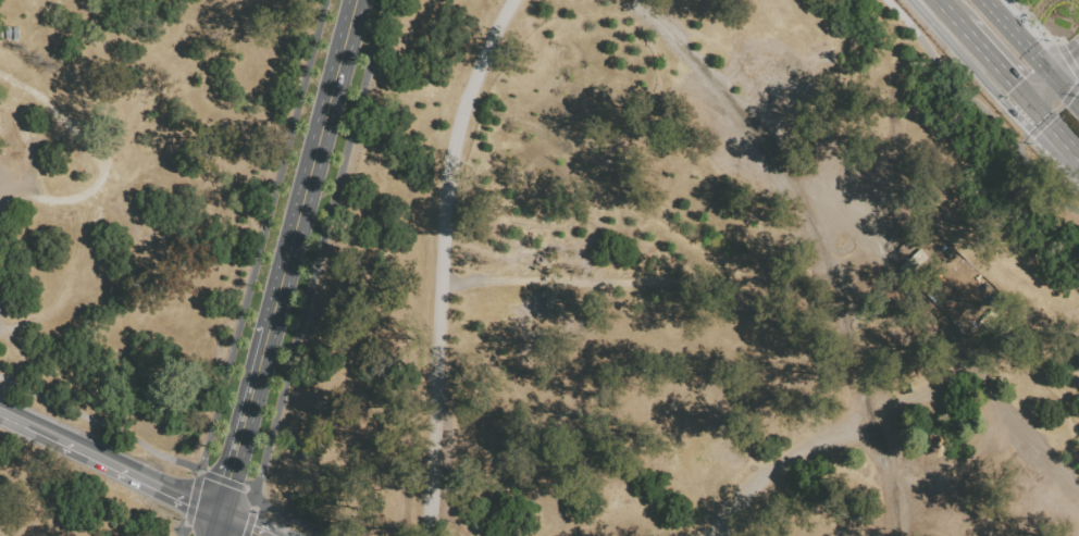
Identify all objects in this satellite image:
road: (985, 7)
road: (1008, 9)
road: (946, 10)
road: (1018, 40)
road: (954, 49)
traffic signals: (1067, 51)
road: (987, 55)
road: (1061, 55)
road: (1067, 73)
road: (1050, 76)
road: (1031, 79)
traffic signals: (1015, 86)
road: (1045, 95)
road: (1068, 95)
road: (1026, 98)
traffic signals: (1000, 99)
traffic signals: (1071, 99)
road: (984, 104)
road: (1044, 121)
road: (1050, 126)
road: (1028, 129)
road: (1074, 151)
road: (312, 162)
road: (787, 177)
road: (261, 235)
road: (319, 246)
road: (442, 261)
park: (523, 274)
road: (731, 301)
road: (12, 416)
road: (244, 419)
road: (99, 423)
road: (991, 460)
road: (121, 468)
road: (227, 482)
road: (191, 497)
traffic signals: (219, 512)
road: (250, 513)
road: (286, 519)
road: (214, 524)
road: (244, 524)
road: (183, 529)

